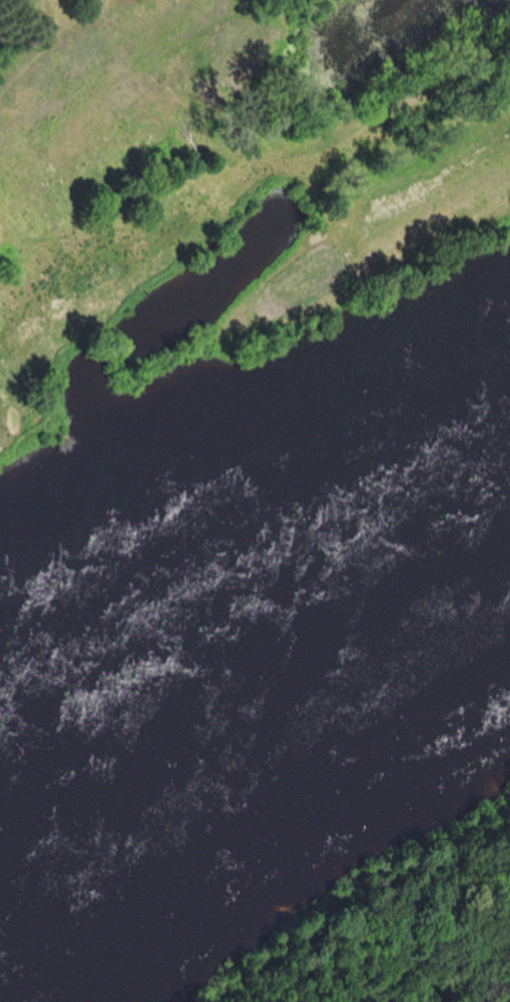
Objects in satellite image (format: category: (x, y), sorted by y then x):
park: (223, 184)
river: (256, 675)

